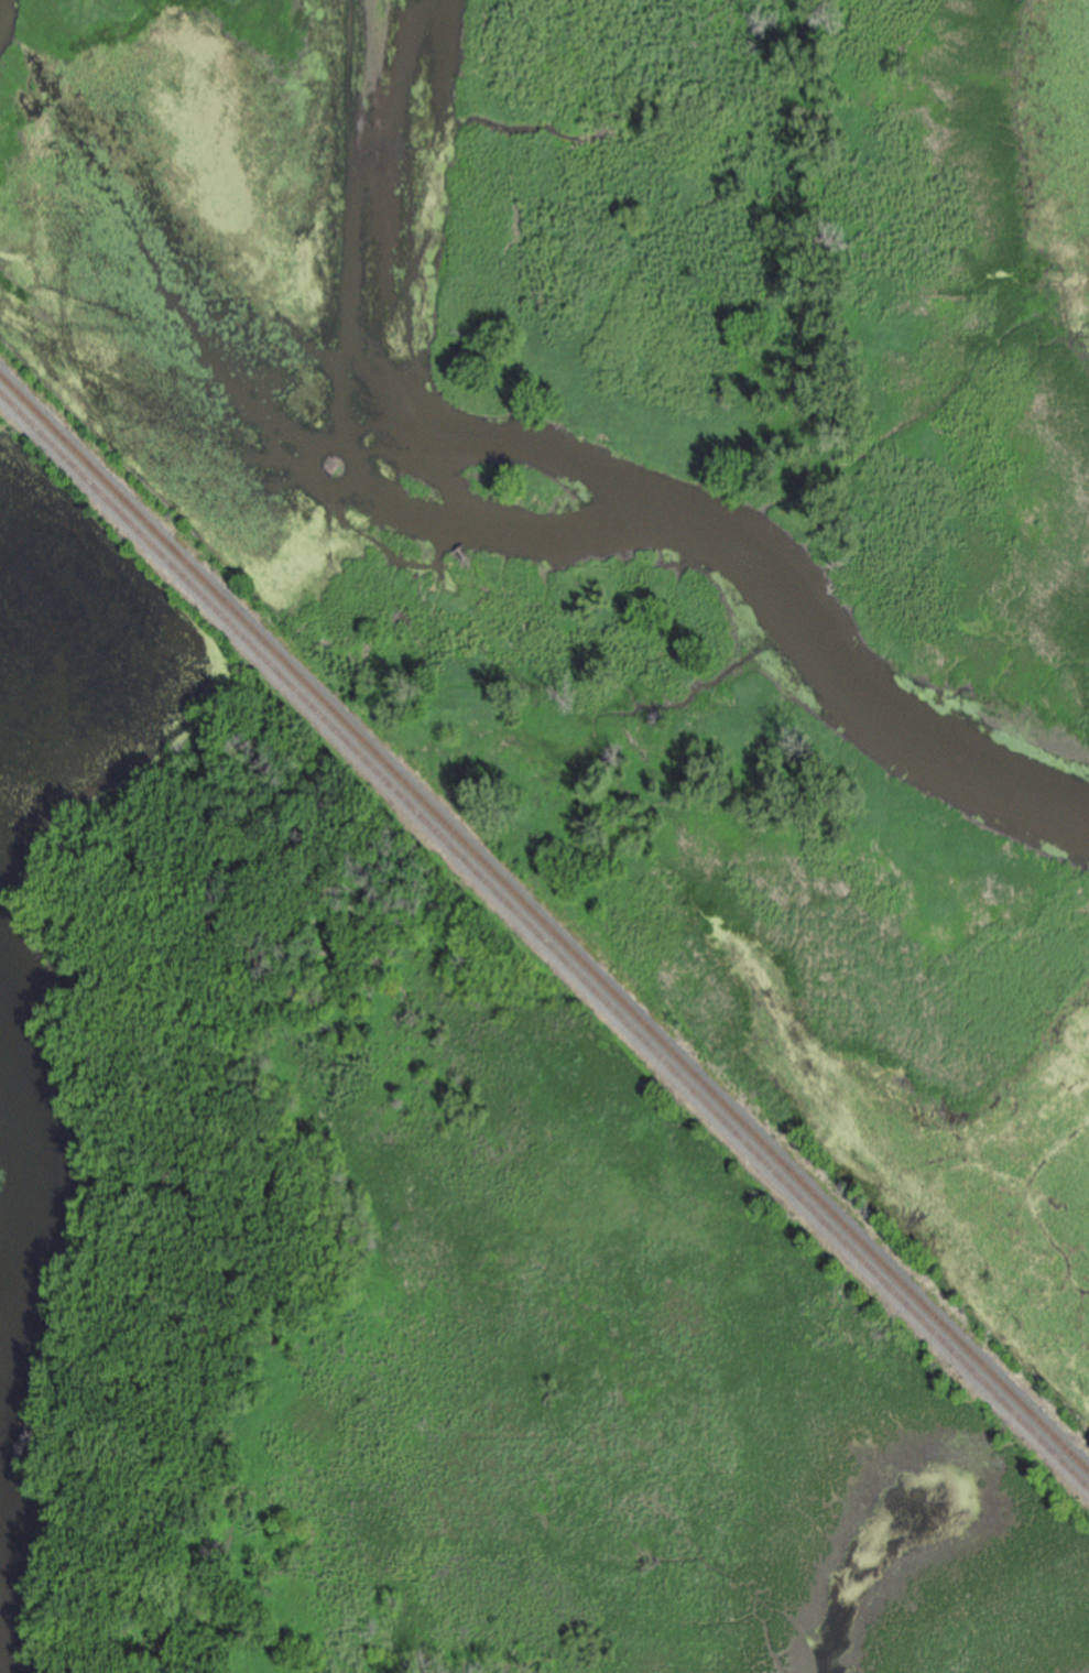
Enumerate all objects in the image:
railway: (544, 917)
railway: (544, 936)

